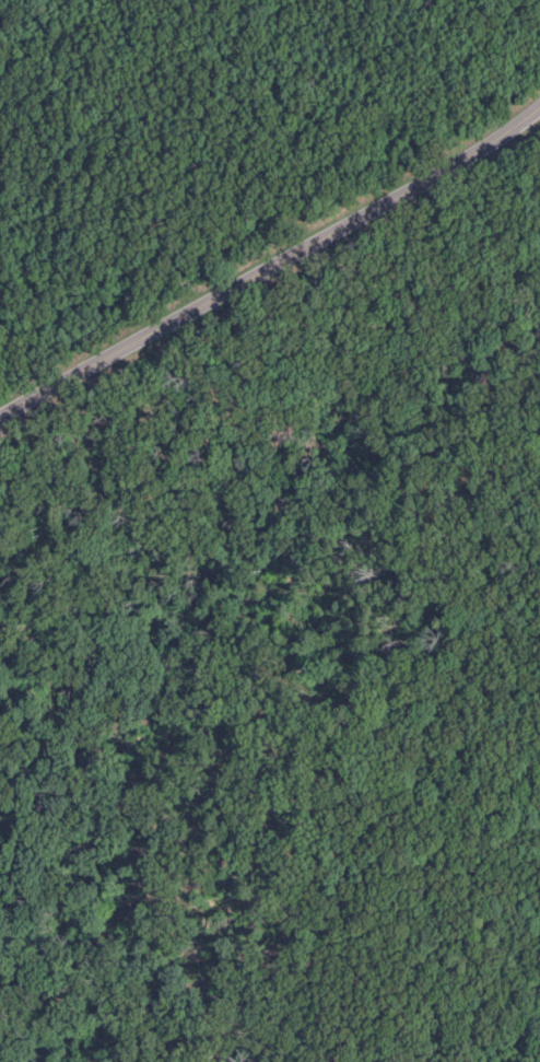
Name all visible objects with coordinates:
road: (271, 266)

